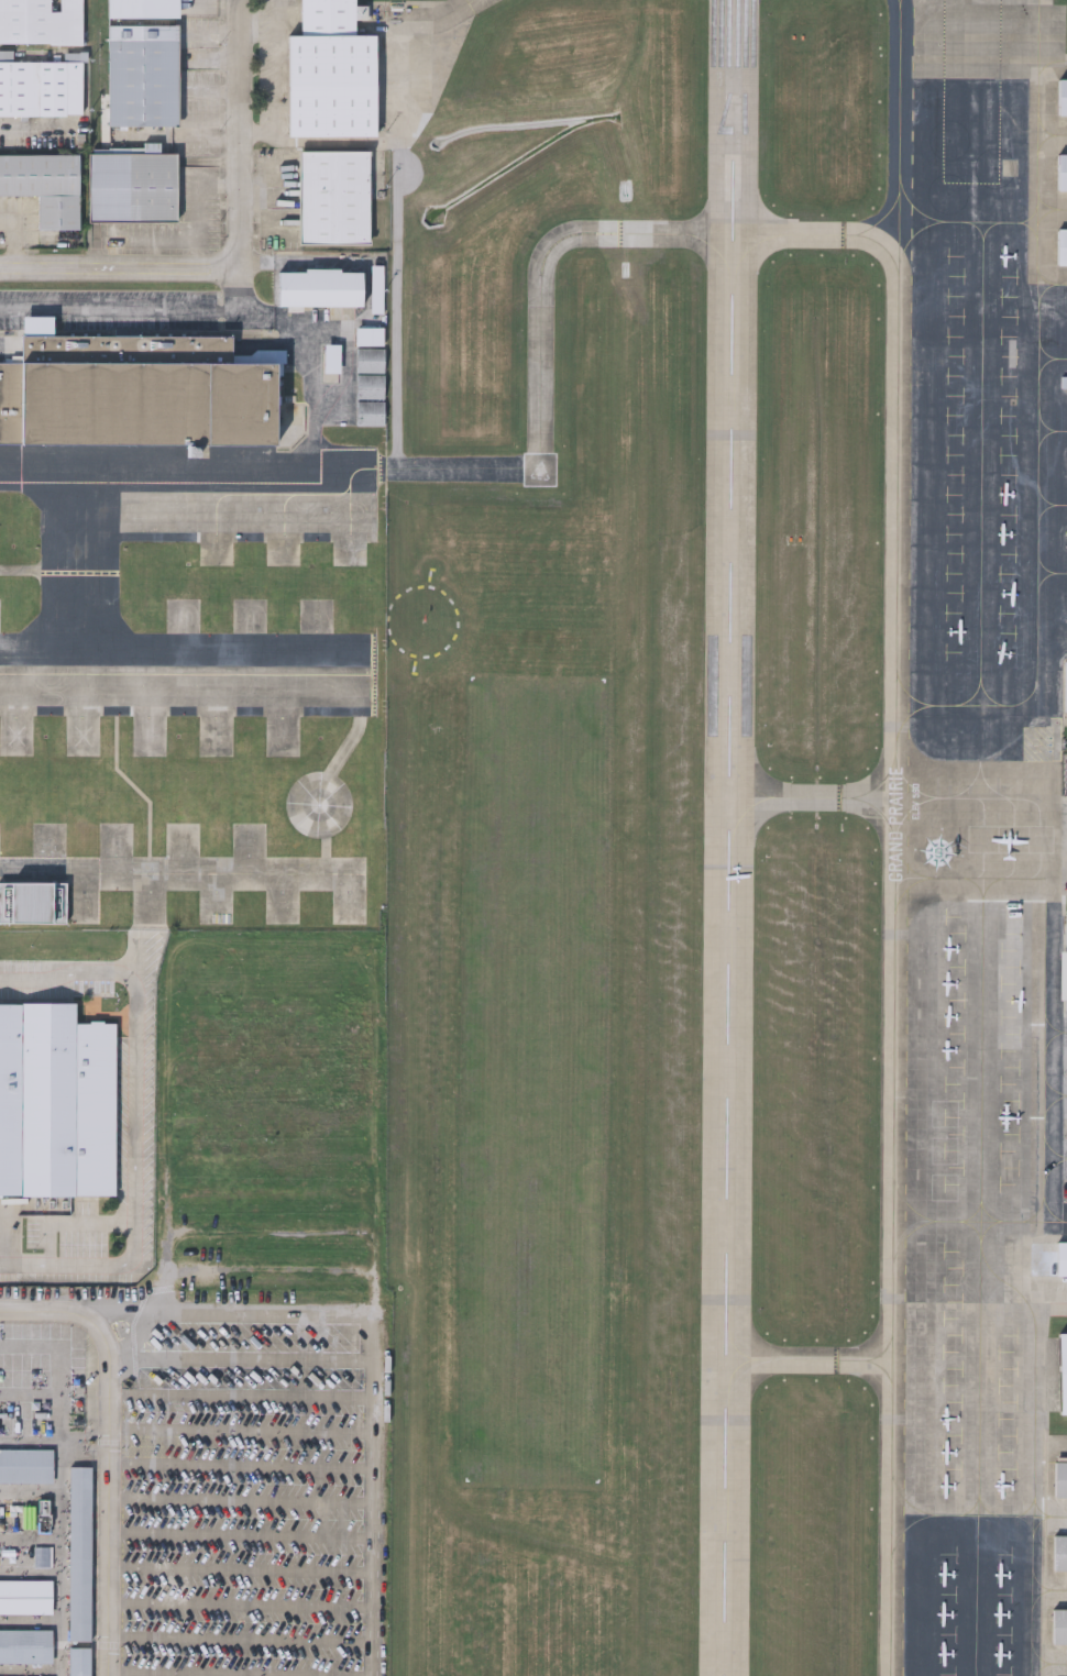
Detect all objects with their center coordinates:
building: (141, 8)
airport taxiway: (465, 13)
building: (329, 15)
building: (41, 20)
building: (141, 74)
building: (332, 82)
building: (41, 85)
building: (1063, 96)
road: (35, 123)
road: (238, 134)
building: (1061, 169)
building: (44, 185)
building: (133, 185)
building: (334, 194)
building: (1061, 244)
road: (113, 268)
building: (320, 289)
parking lot: (110, 310)
road: (123, 312)
building: (367, 334)
road: (311, 342)
building: (367, 357)
building: (1063, 379)
building: (367, 384)
building: (142, 394)
building: (367, 411)
airport taxiway: (502, 471)
building: (1066, 684)
helipad: (88, 742)
airport taxiway: (809, 804)
helipad: (326, 817)
airport: (727, 838)
airport runway: (733, 838)
airport apron: (969, 849)
building: (32, 901)
building: (1064, 962)
road: (103, 1000)
building: (58, 1104)
road: (135, 1118)
road: (73, 1222)
building: (1047, 1258)
road: (374, 1353)
airport taxiway: (806, 1358)
building: (1061, 1372)
road: (31, 1392)
road: (31, 1442)
road: (113, 1444)
building: (25, 1465)
road: (61, 1478)
building: (1059, 1479)
parking lot: (248, 1498)
road: (30, 1551)
building: (1059, 1553)
building: (78, 1554)
building: (25, 1596)
building: (1058, 1627)
building: (25, 1646)
building: (77, 1662)

